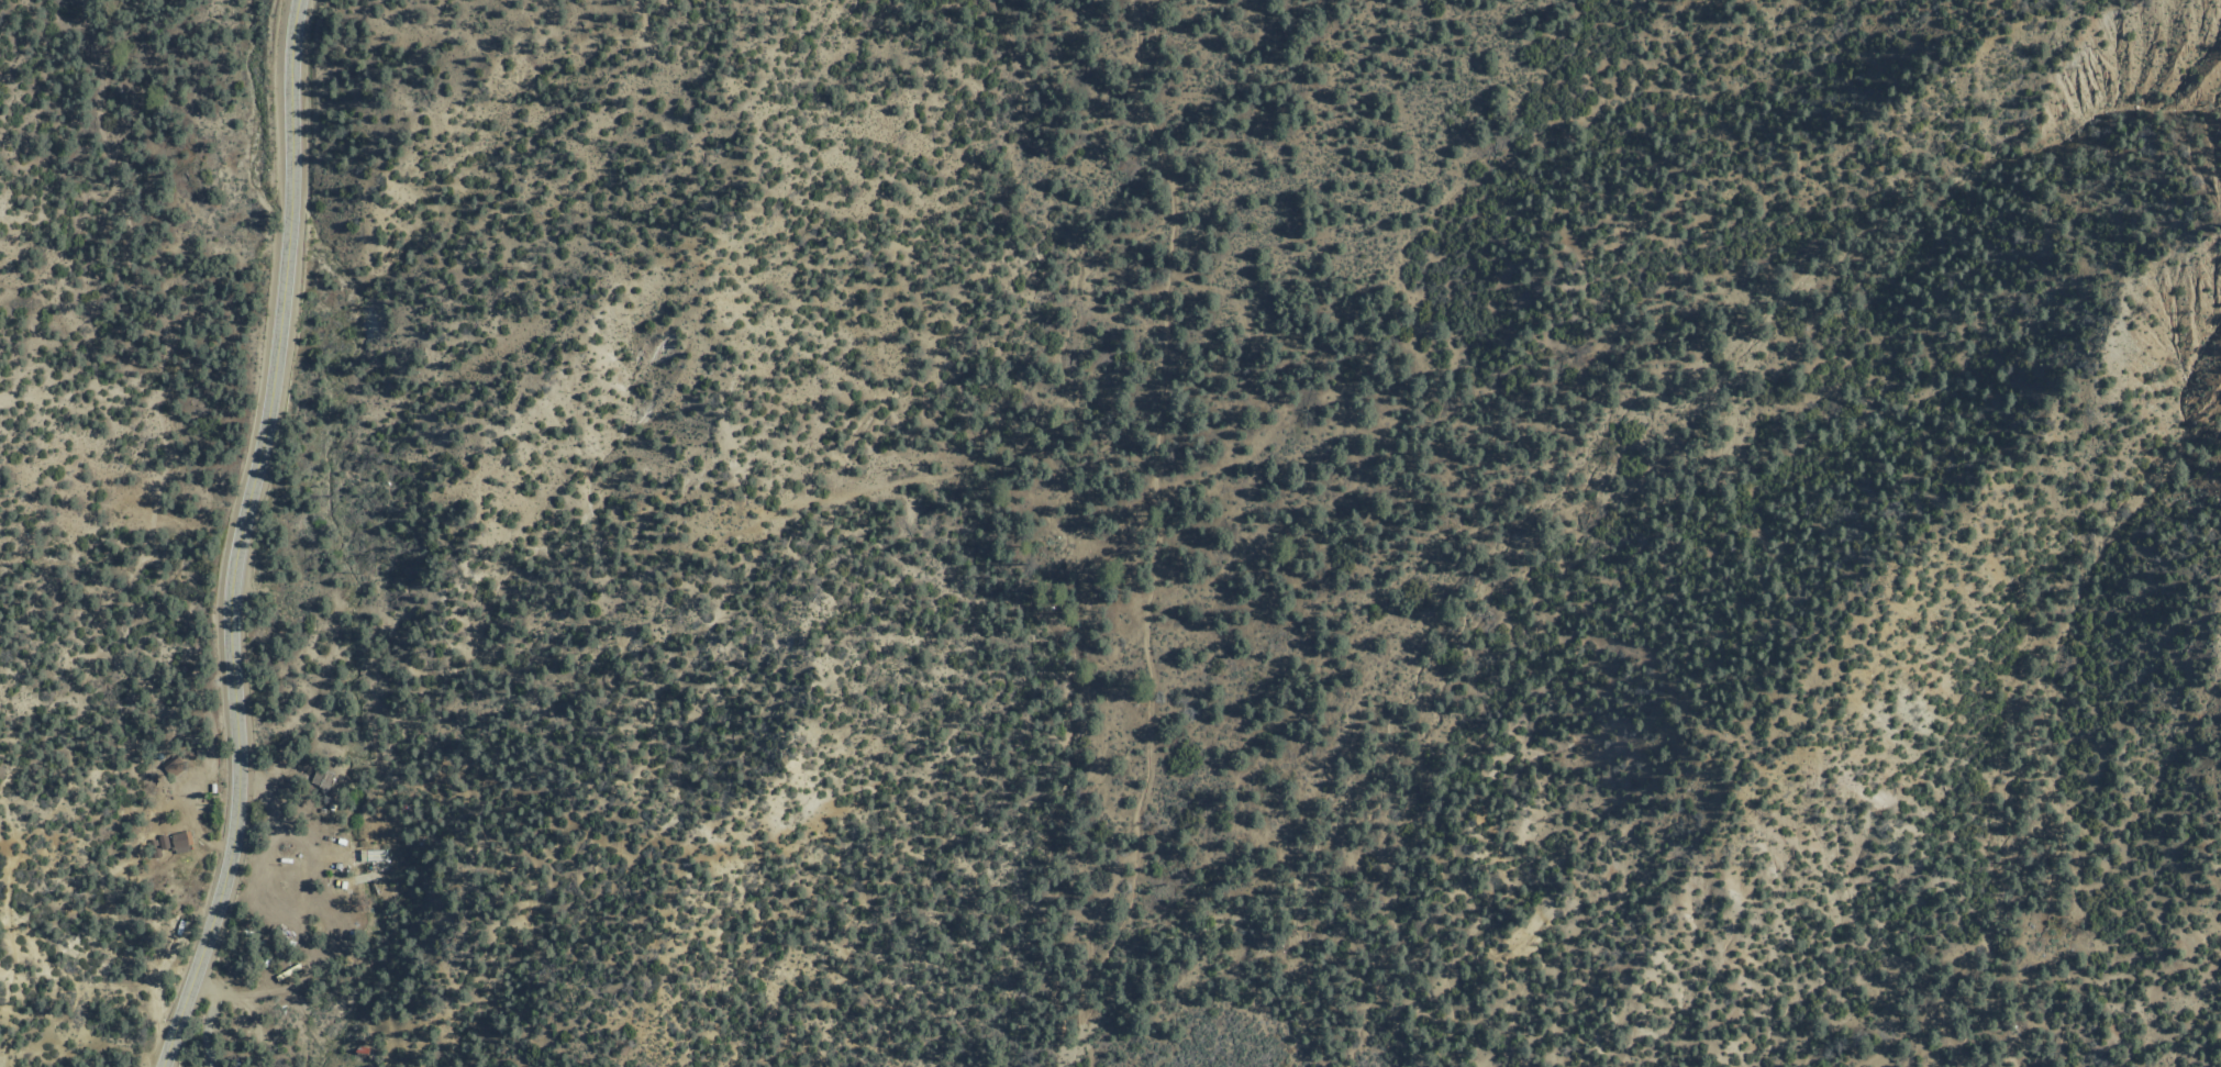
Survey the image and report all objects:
road: (1168, 421)
road: (232, 536)
building: (179, 841)

